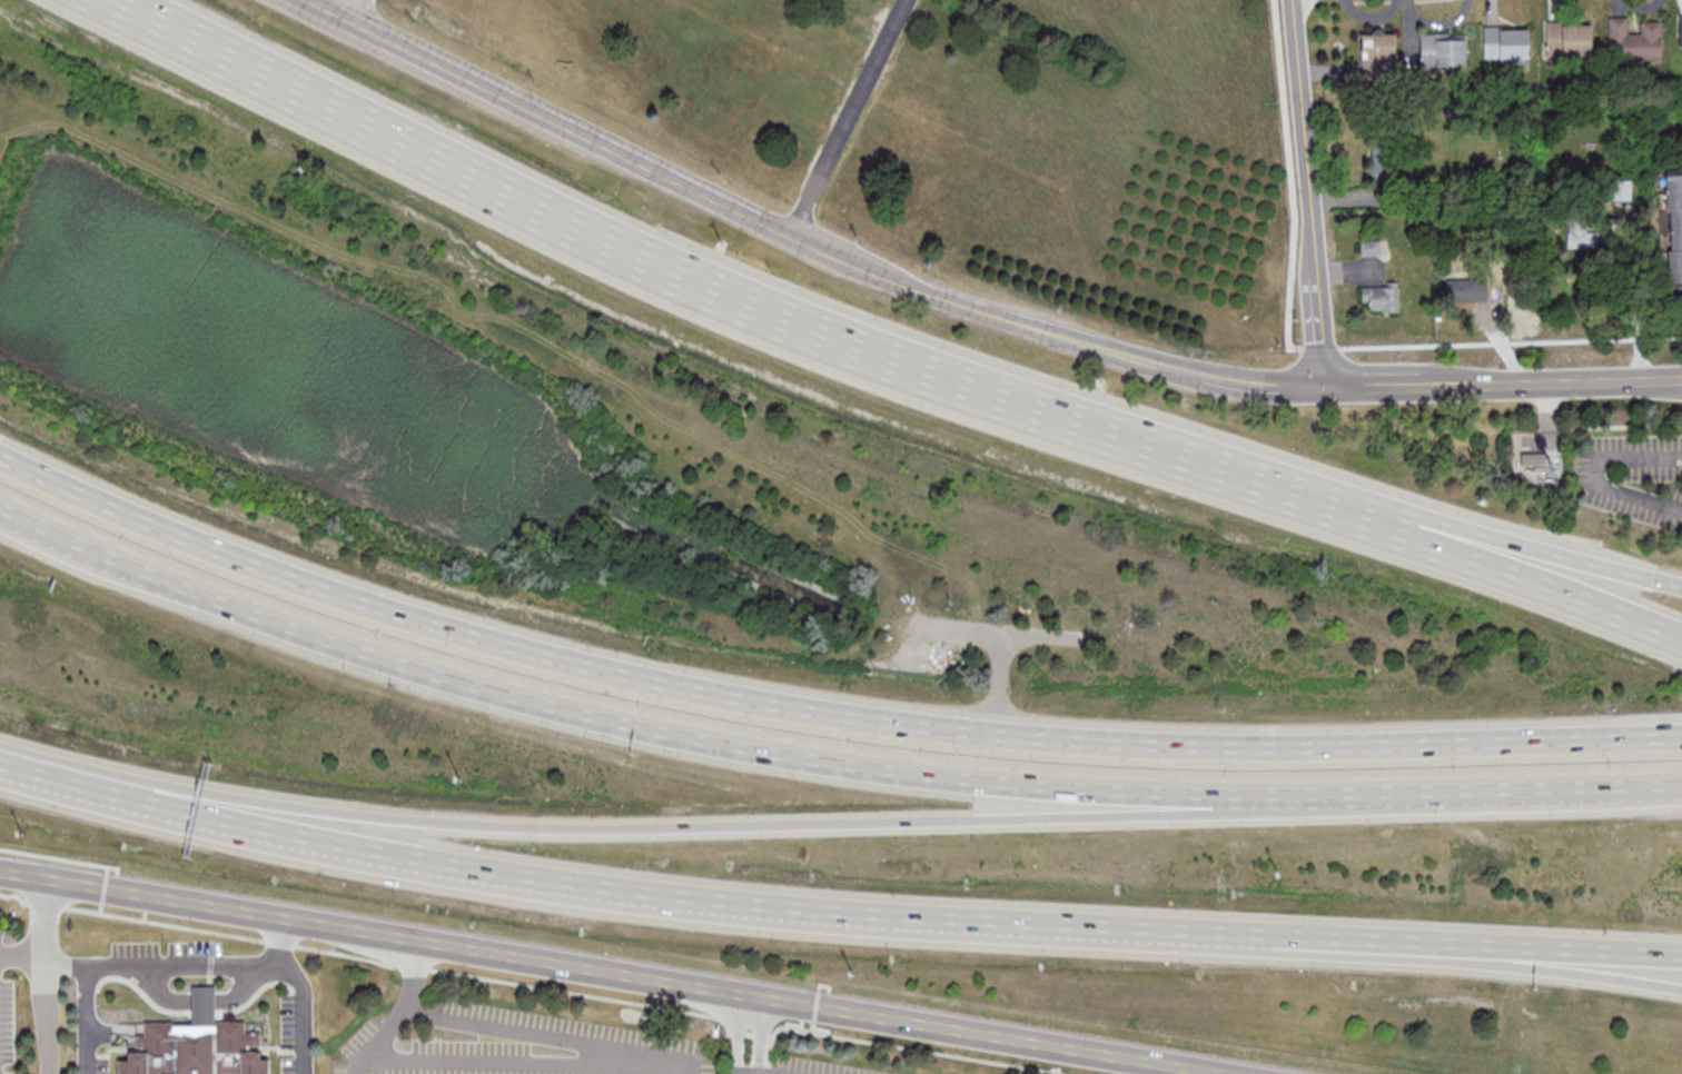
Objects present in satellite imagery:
road: (353, 10)
building: (1680, 32)
building: (1570, 38)
building: (1635, 40)
building: (1506, 43)
building: (1444, 49)
building: (1378, 50)
road: (848, 118)
road: (1312, 196)
road: (746, 216)
building: (1674, 228)
building: (1581, 236)
building: (1371, 247)
building: (1466, 290)
building: (1382, 297)
road: (746, 305)
road: (1633, 305)
road: (1268, 387)
road: (1505, 388)
traffic signals: (1330, 392)
building: (1535, 460)
road: (1547, 556)
road: (99, 571)
road: (1546, 589)
road: (1003, 632)
road: (484, 639)
road: (999, 683)
road: (637, 727)
road: (1337, 745)
road: (1536, 787)
road: (1352, 792)
road: (838, 824)
road: (617, 893)
road: (1466, 948)
road: (23, 951)
road: (288, 958)
road: (1466, 959)
road: (169, 968)
road: (610, 973)
road: (48, 976)
building: (206, 1002)
road: (198, 1003)
road: (87, 1007)
road: (397, 1014)
road: (501, 1027)
road: (306, 1035)
road: (759, 1035)
building: (192, 1051)
road: (88, 1061)
road: (646, 1062)
road: (477, 1063)

